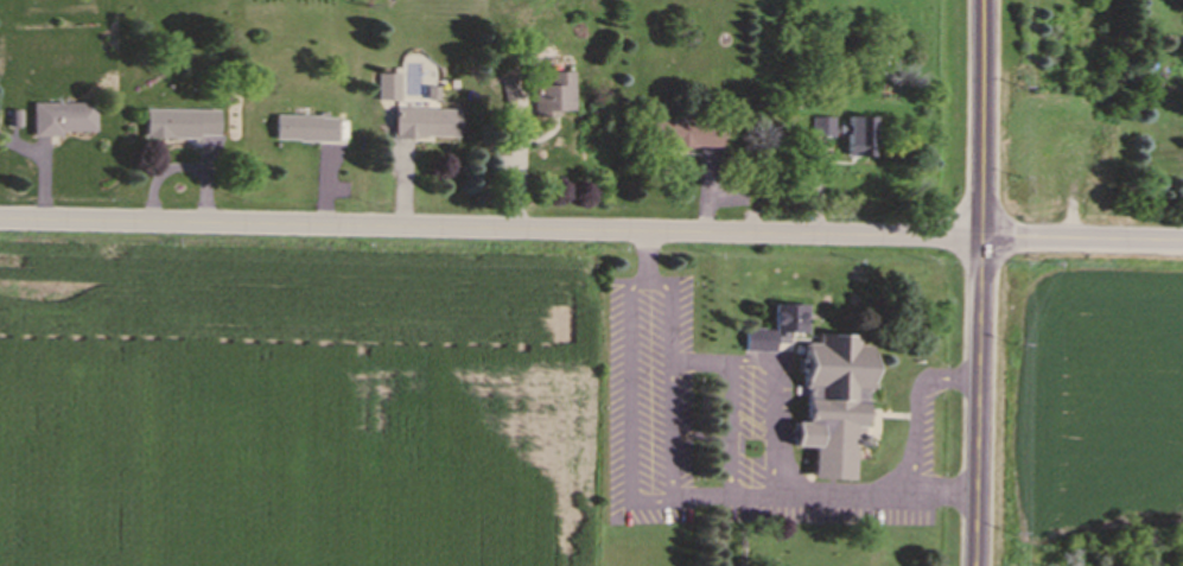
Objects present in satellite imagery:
building: (513, 97)
building: (553, 98)
building: (65, 121)
building: (424, 125)
building: (184, 126)
building: (821, 129)
building: (303, 131)
building: (679, 136)
building: (853, 142)
road: (520, 171)
road: (489, 234)
road: (1081, 248)
road: (651, 263)
road: (979, 282)
building: (775, 331)
road: (707, 362)
crop: (301, 402)
road: (733, 407)
building: (825, 407)
road: (921, 414)
road: (777, 428)
road: (632, 432)
road: (755, 496)
road: (942, 496)
road: (844, 497)

